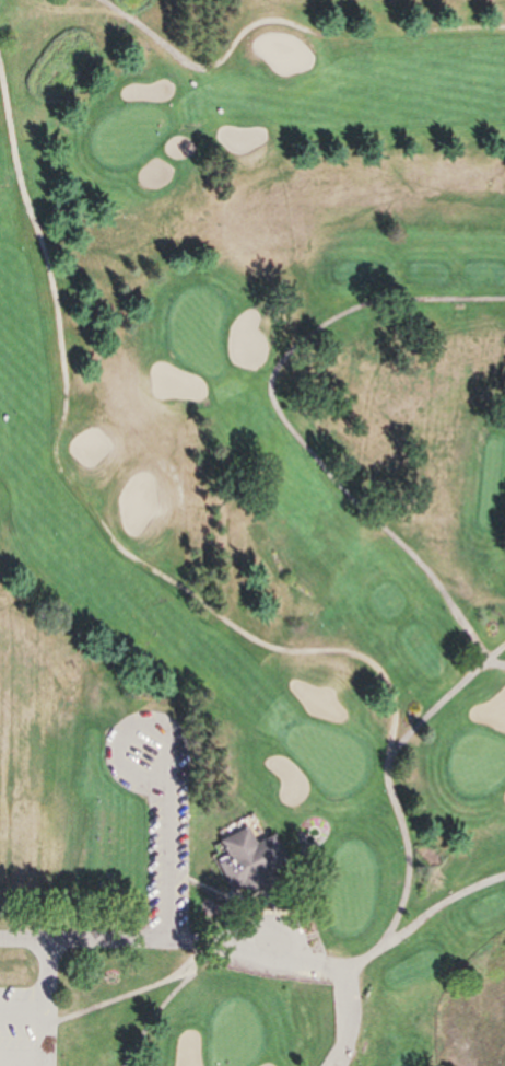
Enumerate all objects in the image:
road: (285, 22)
road: (294, 430)
road: (83, 499)
park: (257, 521)
road: (398, 809)
road: (173, 839)
parking lot: (171, 841)
building: (247, 862)
road: (90, 941)
road: (386, 945)
road: (297, 973)
road: (183, 976)
road: (46, 990)
building: (302, 996)
park: (48, 1004)
parking lot: (31, 1007)

